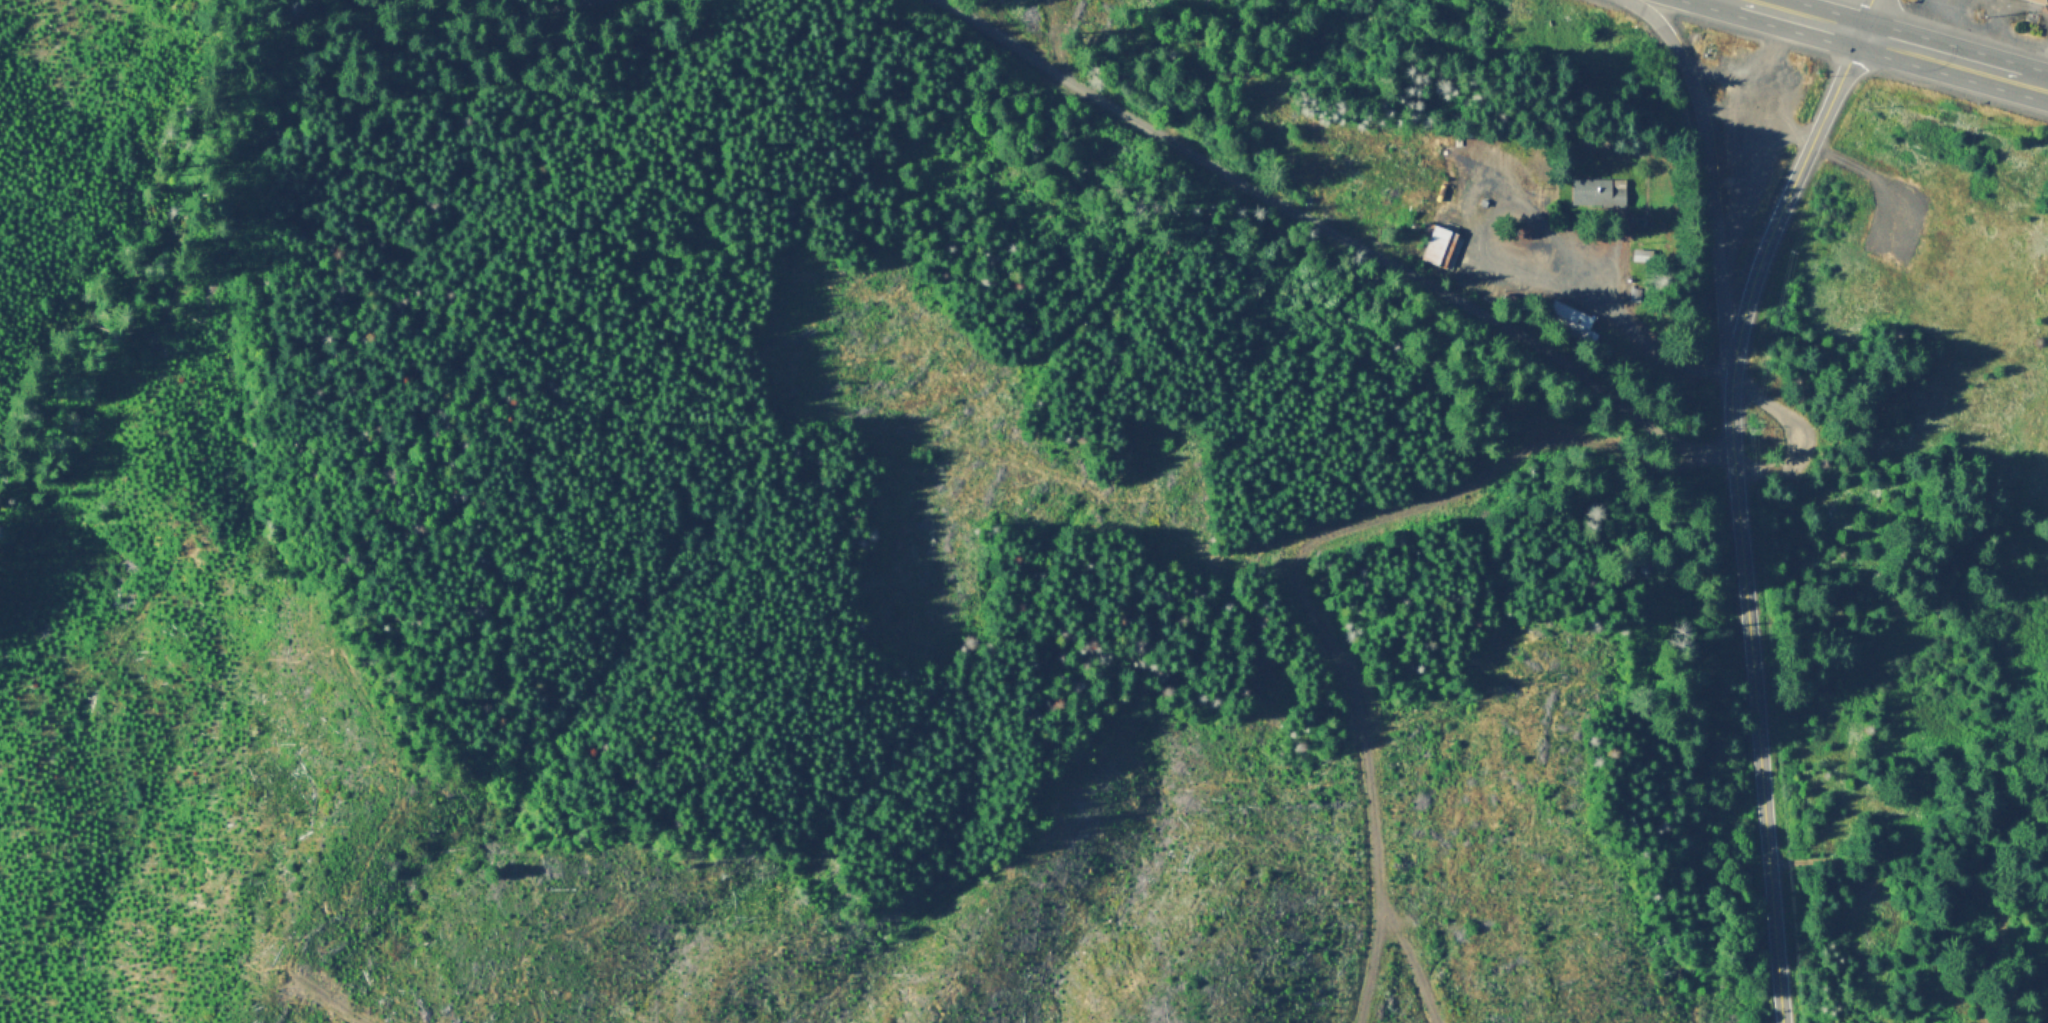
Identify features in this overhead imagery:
building: (2041, 1)
road: (1865, 13)
road: (1808, 14)
road: (474, 15)
road: (1938, 50)
road: (2033, 77)
road: (1758, 121)
road: (1708, 175)
road: (1463, 187)
building: (1592, 191)
road: (1740, 194)
road: (1787, 197)
road: (1335, 231)
building: (1444, 246)
road: (1645, 337)
road: (996, 377)
road: (1800, 431)
road: (1756, 698)

